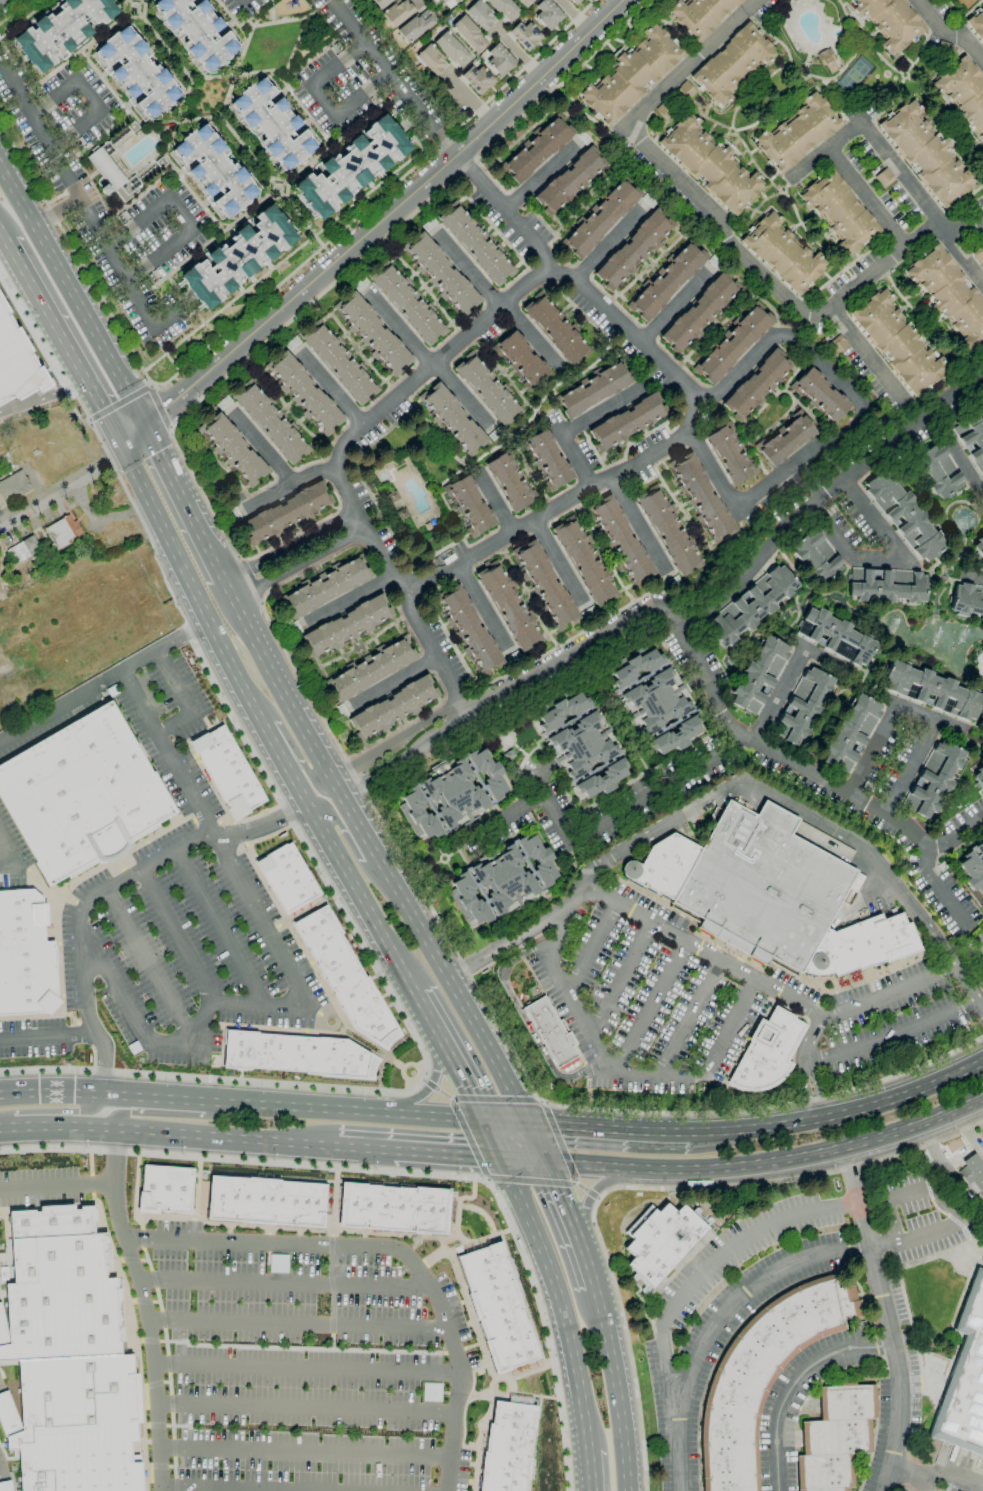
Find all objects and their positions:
road: (415, 0)
building: (450, 2)
building: (526, 2)
building: (575, 2)
building: (382, 3)
building: (504, 8)
road: (13, 10)
building: (398, 12)
road: (968, 13)
building: (480, 14)
building: (548, 14)
building: (701, 15)
building: (890, 21)
building: (416, 25)
building: (976, 25)
building: (62, 30)
building: (198, 31)
road: (957, 31)
building: (469, 34)
building: (525, 35)
building: (982, 45)
building: (452, 49)
building: (943, 49)
road: (518, 54)
building: (431, 59)
building: (499, 59)
building: (827, 60)
building: (733, 63)
road: (339, 66)
building: (138, 72)
building: (632, 75)
road: (393, 78)
building: (478, 79)
building: (685, 91)
building: (963, 93)
road: (87, 94)
road: (361, 96)
road: (53, 97)
road: (470, 99)
road: (322, 103)
building: (666, 110)
building: (273, 124)
building: (132, 127)
road: (74, 130)
building: (798, 133)
road: (845, 135)
building: (537, 149)
building: (926, 154)
building: (161, 163)
building: (710, 164)
road: (809, 164)
building: (352, 167)
building: (215, 170)
building: (111, 174)
building: (884, 178)
road: (543, 181)
building: (570, 181)
road: (77, 200)
road: (184, 211)
road: (55, 212)
building: (839, 212)
road: (505, 215)
building: (601, 218)
road: (139, 221)
road: (374, 226)
road: (2, 235)
road: (729, 238)
road: (616, 240)
building: (476, 244)
building: (633, 250)
road: (160, 253)
building: (783, 253)
building: (978, 255)
road: (967, 256)
building: (238, 257)
road: (468, 268)
building: (441, 274)
building: (667, 281)
building: (950, 295)
road: (73, 297)
road: (263, 299)
building: (407, 303)
road: (678, 306)
building: (700, 312)
road: (394, 323)
road: (27, 328)
building: (556, 330)
road: (636, 331)
building: (373, 333)
road: (530, 337)
building: (823, 342)
road: (64, 343)
building: (898, 343)
building: (734, 344)
building: (838, 344)
road: (871, 352)
building: (521, 360)
building: (17, 361)
building: (339, 363)
building: (757, 385)
road: (150, 386)
road: (330, 388)
building: (593, 389)
building: (488, 390)
building: (304, 393)
road: (458, 395)
building: (820, 396)
road: (43, 398)
road: (120, 404)
road: (158, 407)
road: (90, 419)
building: (452, 419)
building: (271, 422)
road: (849, 422)
building: (627, 423)
road: (170, 426)
road: (570, 426)
traffic signals: (144, 428)
building: (971, 438)
building: (785, 439)
road: (257, 444)
traffic signals: (122, 449)
building: (234, 449)
building: (730, 453)
road: (957, 455)
building: (548, 459)
building: (938, 471)
road: (290, 480)
building: (510, 482)
building: (14, 487)
road: (62, 488)
road: (127, 494)
building: (393, 496)
road: (827, 497)
building: (701, 498)
road: (495, 499)
road: (183, 504)
building: (470, 506)
building: (286, 512)
building: (403, 514)
building: (904, 515)
road: (100, 521)
road: (638, 526)
building: (669, 530)
building: (62, 532)
building: (621, 541)
building: (979, 545)
building: (23, 549)
road: (386, 553)
road: (297, 554)
building: (816, 556)
road: (560, 561)
building: (585, 561)
road: (911, 567)
building: (545, 585)
building: (885, 586)
building: (326, 587)
road: (192, 588)
road: (351, 599)
building: (967, 601)
road: (485, 606)
building: (509, 606)
building: (751, 606)
building: (347, 626)
building: (469, 630)
building: (835, 636)
road: (574, 645)
road: (432, 649)
building: (635, 666)
building: (371, 669)
building: (759, 675)
road: (789, 675)
road: (394, 682)
road: (104, 683)
road: (276, 684)
road: (303, 686)
building: (931, 690)
road: (184, 699)
building: (656, 702)
building: (802, 707)
building: (393, 708)
building: (561, 709)
road: (917, 713)
street lamp: (233, 720)
parking lot: (53, 727)
building: (851, 733)
building: (676, 736)
road: (394, 739)
building: (582, 745)
road: (275, 747)
road: (169, 754)
road: (404, 755)
building: (229, 772)
building: (488, 773)
road: (806, 776)
building: (979, 776)
road: (310, 777)
building: (602, 779)
building: (933, 780)
road: (297, 785)
building: (454, 793)
building: (81, 794)
street lamp: (278, 799)
road: (785, 805)
street lamp: (263, 812)
building: (418, 814)
road: (354, 821)
road: (602, 821)
road: (345, 836)
building: (980, 847)
parking lot: (12, 854)
building: (538, 859)
road: (134, 872)
building: (972, 872)
street lamp: (321, 875)
building: (288, 878)
building: (504, 879)
road: (41, 886)
road: (939, 887)
street lamp: (66, 890)
road: (877, 892)
building: (769, 895)
road: (361, 899)
building: (468, 900)
road: (319, 901)
building: (20, 908)
parking lot: (172, 916)
road: (219, 928)
building: (21, 934)
road: (178, 934)
road: (519, 935)
road: (590, 946)
street lamp: (59, 952)
road: (59, 956)
road: (148, 960)
street lamp: (375, 969)
building: (346, 976)
building: (26, 977)
building: (982, 978)
road: (622, 979)
road: (964, 982)
building: (982, 983)
road: (453, 988)
street lamp: (96, 989)
road: (778, 992)
parking lot: (718, 998)
road: (248, 1004)
road: (333, 1004)
road: (651, 1005)
road: (979, 1005)
road: (42, 1016)
road: (689, 1017)
road: (524, 1021)
street lamp: (70, 1024)
street lamp: (408, 1026)
street lamp: (296, 1031)
building: (551, 1033)
road: (83, 1034)
road: (47, 1036)
road: (414, 1036)
road: (891, 1036)
street lamp: (404, 1039)
street lamp: (119, 1041)
road: (397, 1043)
street lamp: (398, 1043)
road: (374, 1045)
building: (132, 1047)
road: (362, 1047)
street lamp: (392, 1048)
road: (102, 1050)
street lamp: (417, 1050)
building: (767, 1053)
building: (297, 1055)
road: (450, 1057)
road: (93, 1058)
street lamp: (420, 1059)
street lamp: (73, 1063)
street lamp: (414, 1063)
street lamp: (402, 1064)
road: (413, 1065)
road: (805, 1065)
street lamp: (380, 1066)
road: (624, 1069)
street lamp: (399, 1070)
road: (377, 1074)
street lamp: (378, 1074)
road: (404, 1078)
road: (418, 1078)
street lamp: (402, 1080)
street lamp: (377, 1082)
road: (102, 1084)
street lamp: (260, 1085)
street lamp: (392, 1088)
street lamp: (403, 1088)
road: (426, 1088)
road: (50, 1092)
street lamp: (361, 1092)
road: (154, 1098)
road: (477, 1100)
road: (541, 1101)
road: (366, 1111)
road: (55, 1112)
road: (201, 1114)
road: (844, 1114)
traffic signals: (485, 1121)
traffic signals: (527, 1124)
road: (58, 1126)
road: (612, 1129)
road: (226, 1137)
road: (468, 1138)
road: (493, 1139)
road: (536, 1143)
building: (982, 1146)
road: (366, 1149)
road: (564, 1153)
road: (448, 1154)
traffic signals: (501, 1158)
traffic signals: (545, 1162)
road: (746, 1164)
road: (406, 1171)
building: (972, 1171)
road: (487, 1179)
road: (531, 1181)
road: (56, 1188)
road: (644, 1188)
building: (166, 1190)
road: (934, 1190)
road: (591, 1196)
road: (597, 1199)
building: (266, 1201)
building: (394, 1208)
road: (890, 1218)
road: (572, 1223)
building: (660, 1242)
road: (390, 1248)
road: (285, 1282)
building: (59, 1287)
road: (559, 1300)
road: (144, 1307)
building: (498, 1307)
road: (886, 1318)
road: (296, 1323)
parking lot: (695, 1331)
parking lot: (309, 1362)
road: (307, 1367)
building: (762, 1376)
building: (965, 1379)
road: (796, 1383)
road: (615, 1388)
road: (306, 1407)
building: (78, 1424)
building: (835, 1437)
building: (508, 1447)
road: (305, 1452)
road: (685, 1456)
road: (908, 1469)
road: (588, 1472)
road: (956, 1480)
road: (926, 1482)
road: (226, 1488)

